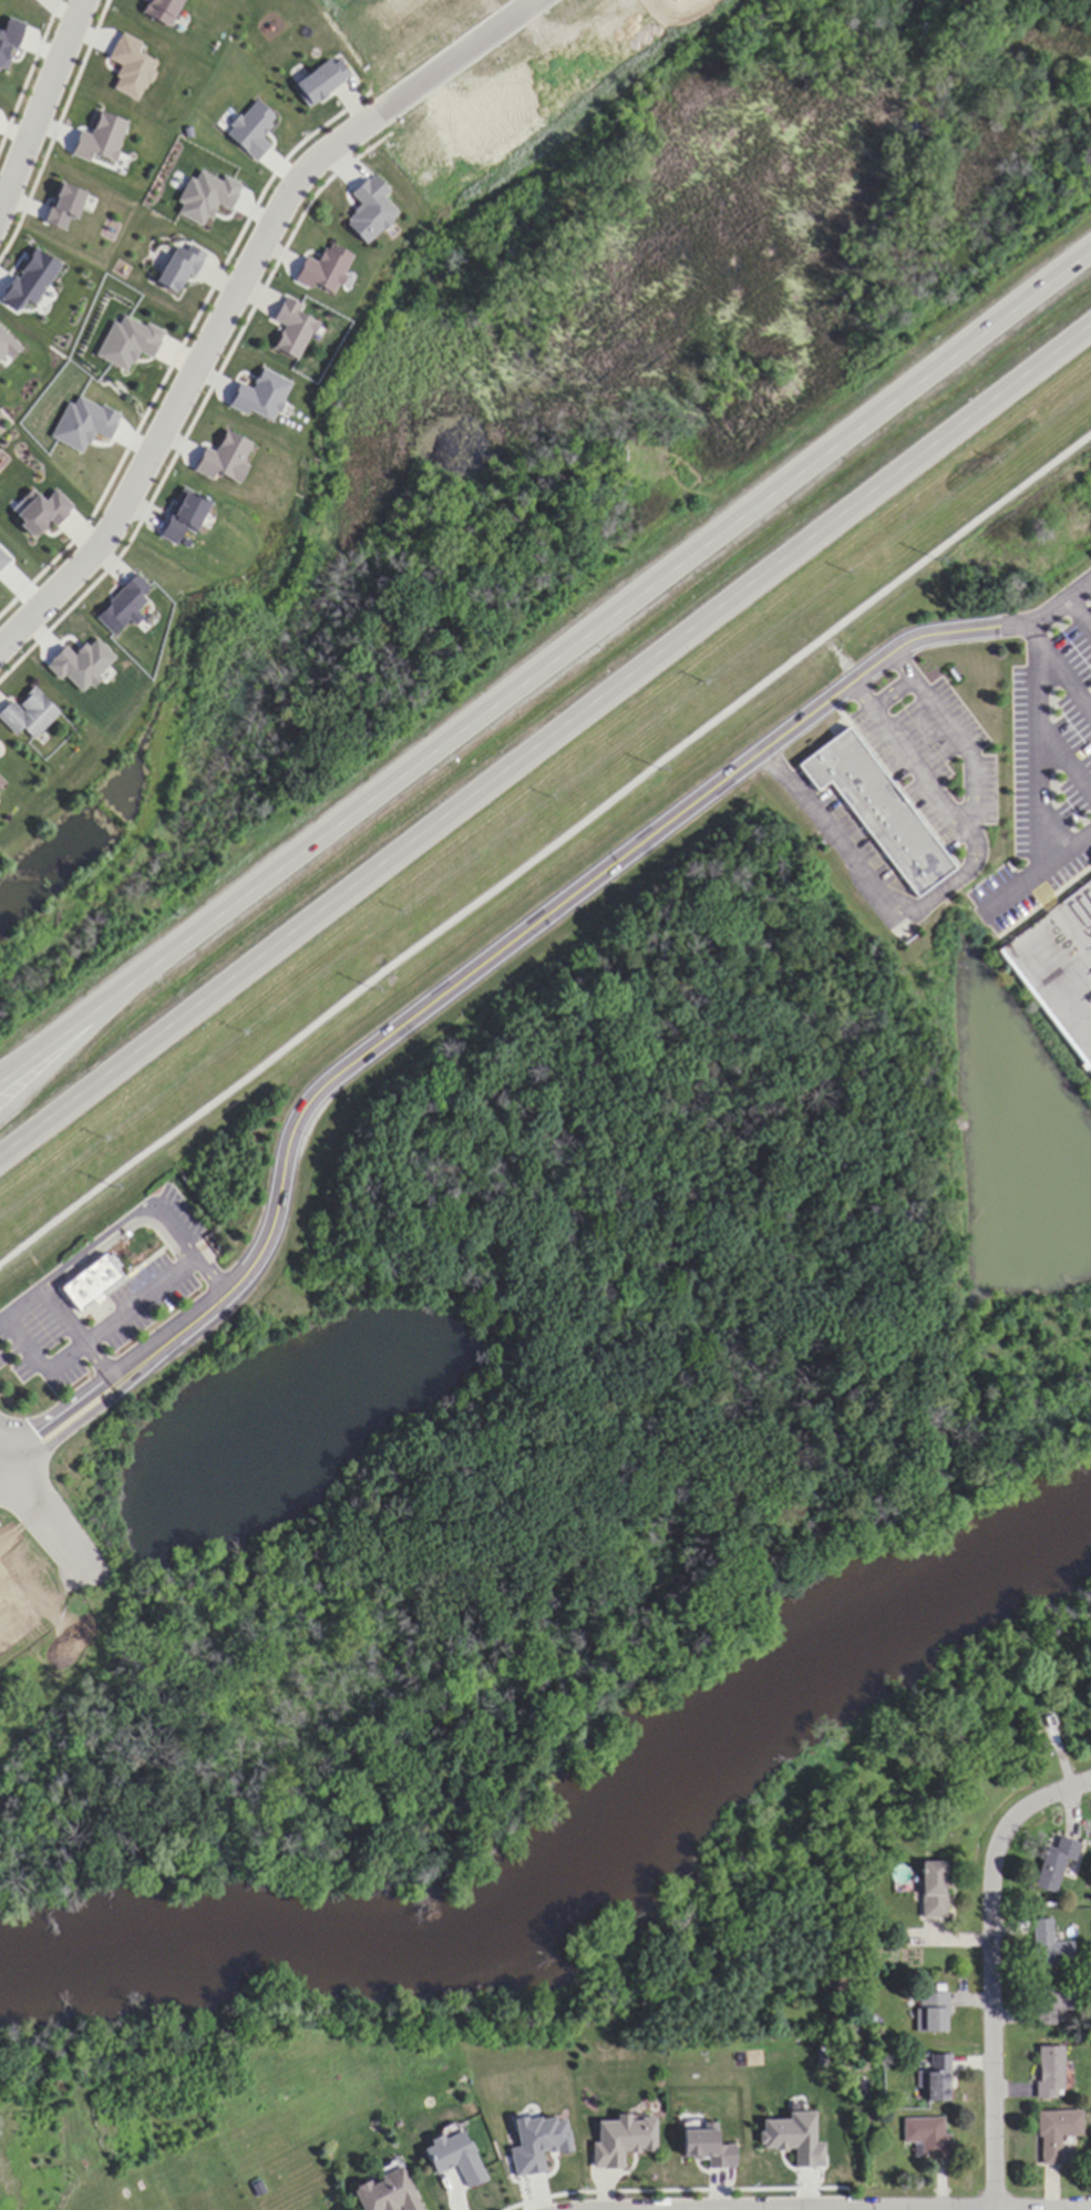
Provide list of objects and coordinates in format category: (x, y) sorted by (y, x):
road: (454, 52)
building: (318, 79)
road: (41, 104)
road: (192, 374)
road: (1049, 613)
road: (1080, 613)
road: (838, 652)
road: (545, 664)
road: (854, 672)
road: (1063, 676)
road: (892, 692)
building: (25, 715)
road: (545, 738)
road: (1038, 748)
parking lot: (1043, 749)
parking lot: (929, 757)
road: (1064, 758)
road: (912, 760)
building: (0, 780)
building: (872, 806)
road: (1088, 841)
building: (1090, 850)
road: (546, 852)
road: (1035, 880)
road: (949, 883)
road: (527, 928)
road: (62, 1055)
road: (18, 1062)
road: (175, 1226)
road: (115, 1235)
road: (213, 1275)
building: (88, 1282)
parking lot: (152, 1291)
road: (61, 1314)
road: (24, 1344)
road: (11, 1351)
road: (99, 1360)
road: (81, 1400)
road: (91, 1414)
road: (0, 1461)
road: (0, 1463)
road: (0, 1464)
road: (43, 1519)
building: (1074, 1647)
building: (1052, 1864)
river: (593, 1873)
building: (930, 1890)
building: (1041, 1943)
road: (991, 1969)
building: (1049, 2004)
building: (929, 2013)
building: (1048, 2074)
building: (935, 2079)
building: (1053, 2134)
building: (923, 2136)
building: (383, 2192)

